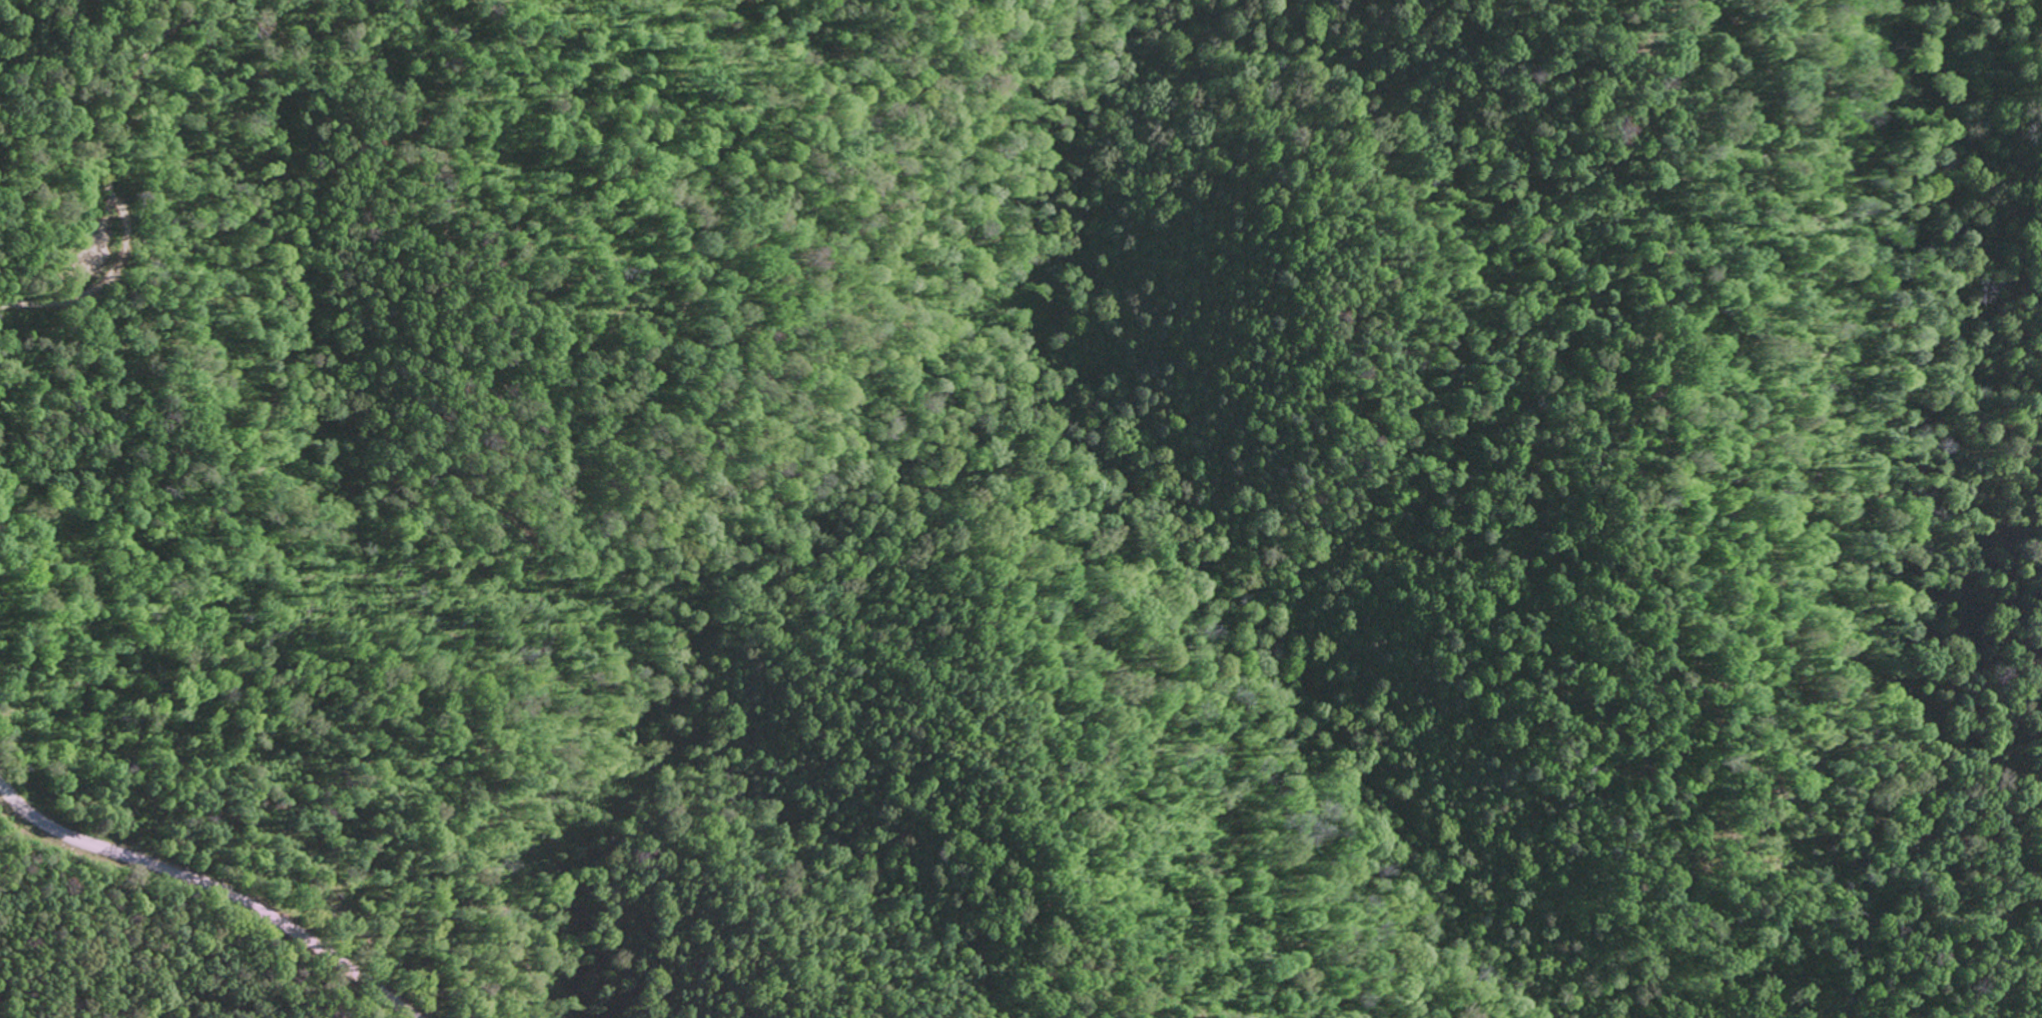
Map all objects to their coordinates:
road: (1312, 719)
road: (210, 886)

